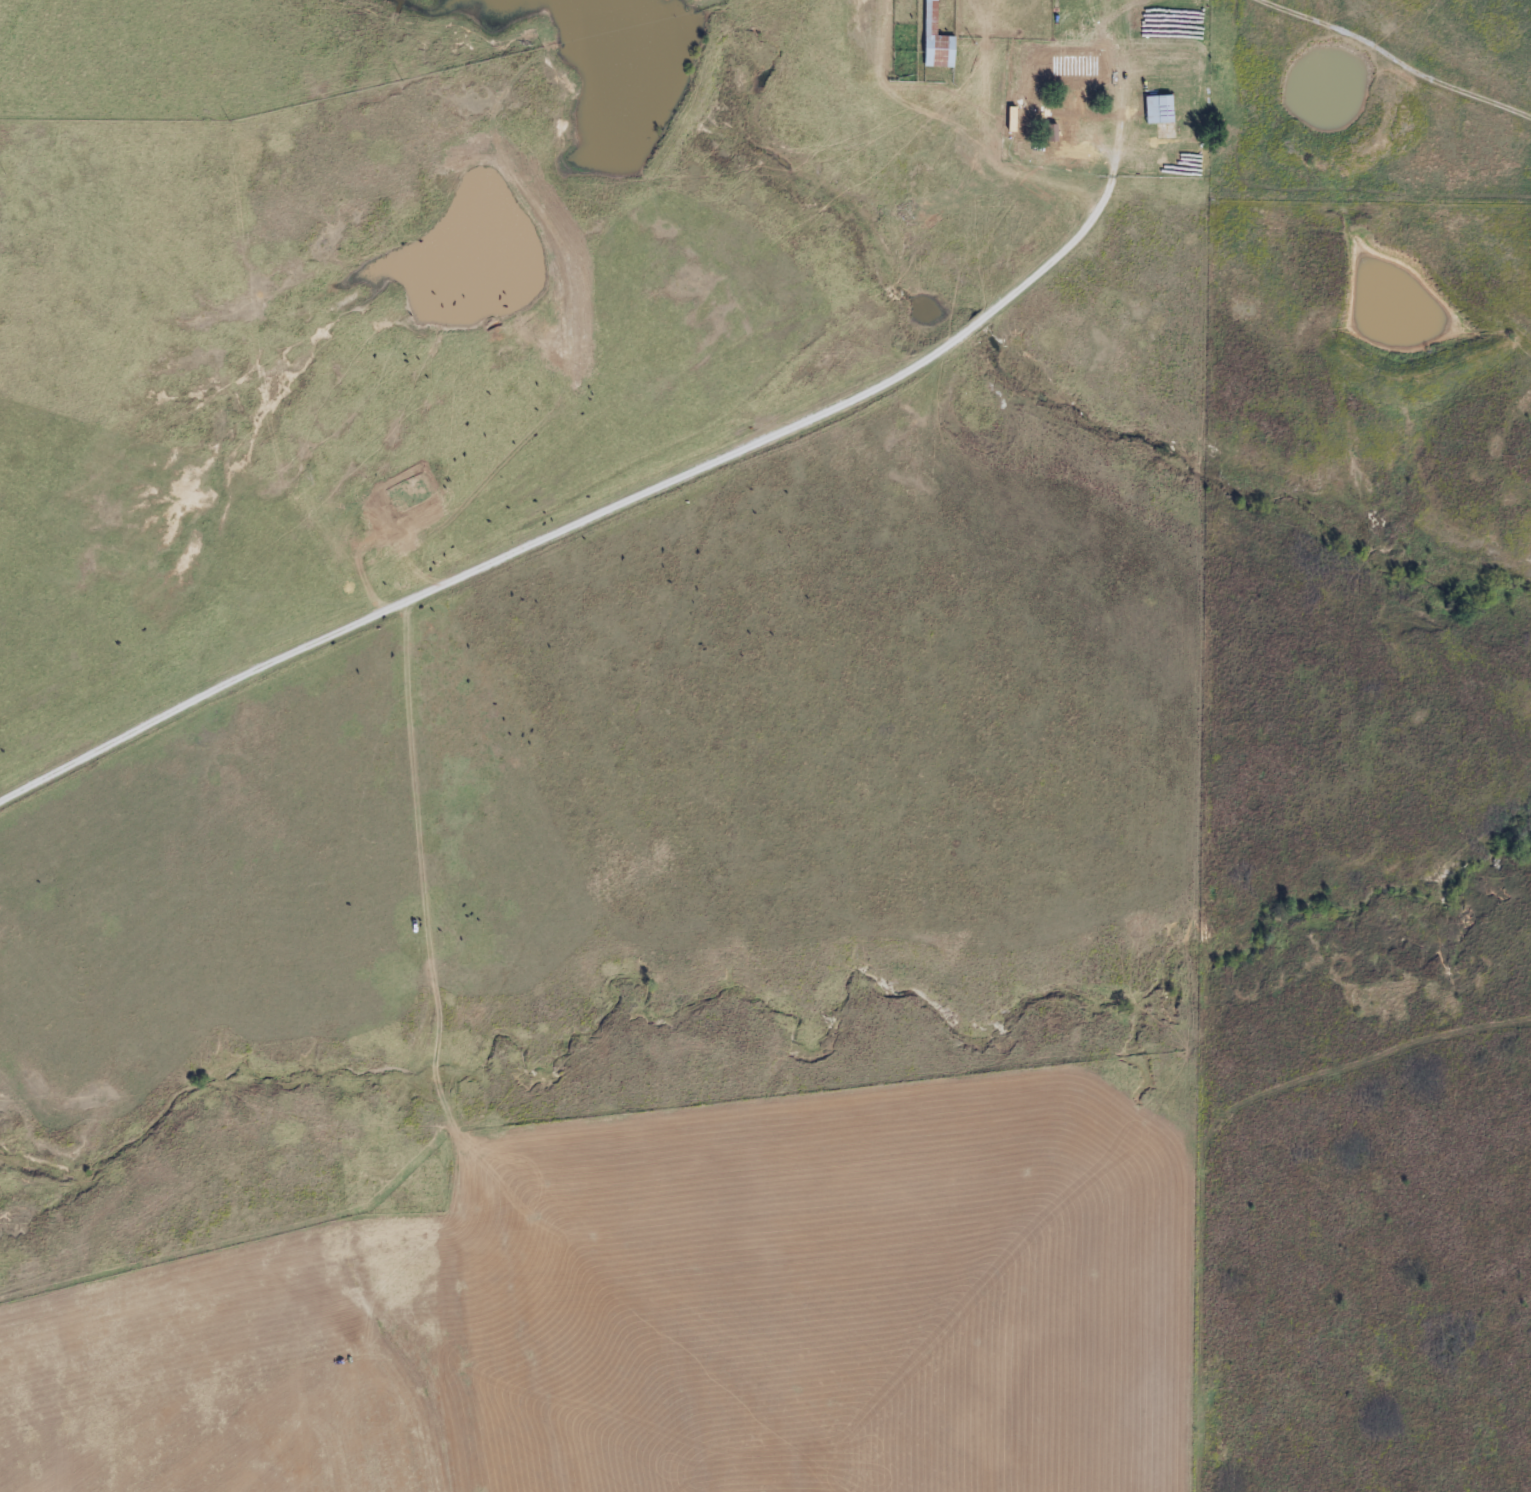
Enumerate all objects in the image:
building: (933, 40)
building: (1157, 109)
building: (1070, 124)
road: (653, 471)

